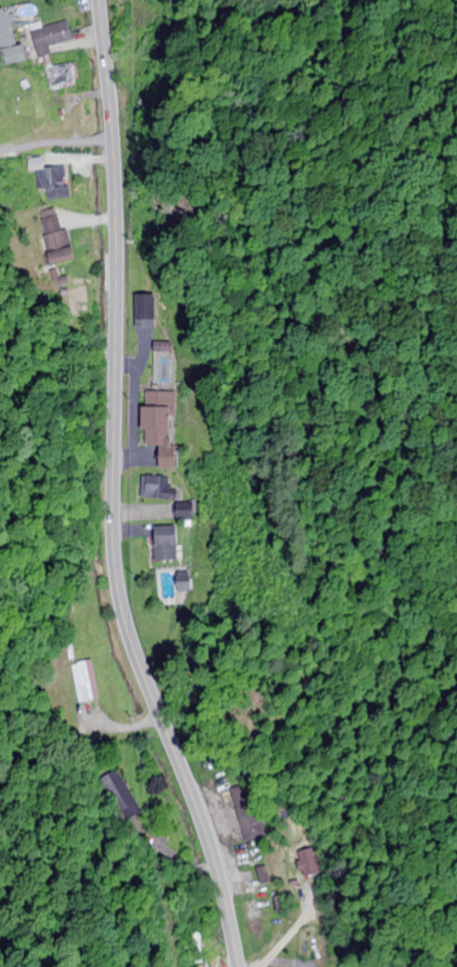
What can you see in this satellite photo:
building: (6, 30)
building: (49, 37)
building: (60, 77)
road: (56, 142)
building: (159, 428)
building: (154, 489)
road: (113, 493)
building: (182, 515)
building: (163, 545)
building: (181, 587)
building: (84, 683)
park: (230, 707)
building: (253, 819)
building: (306, 863)

